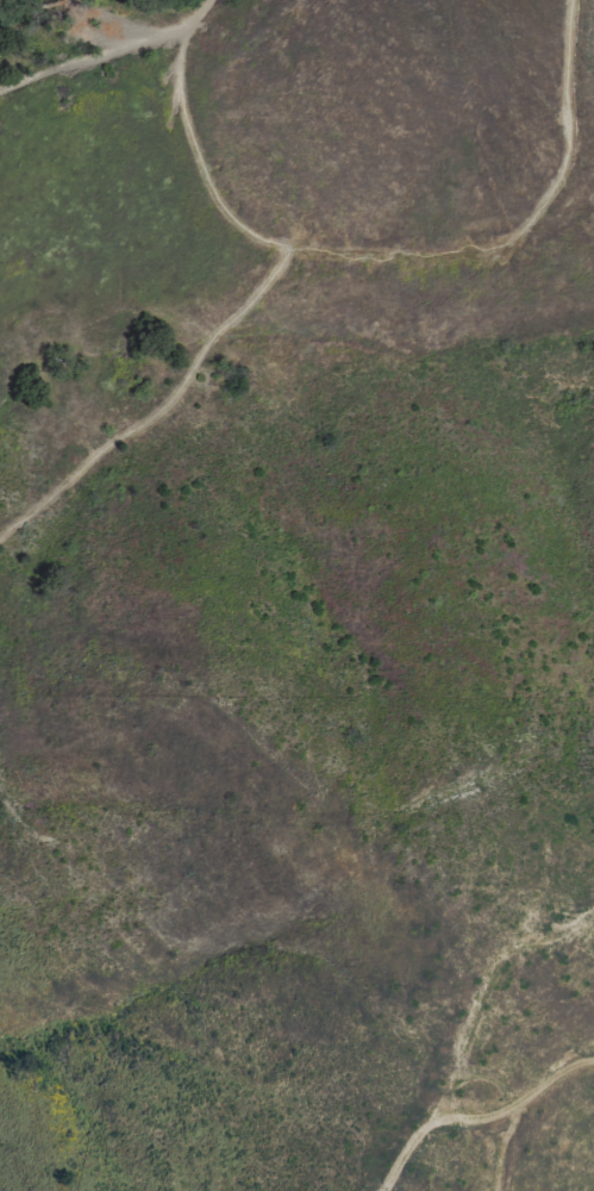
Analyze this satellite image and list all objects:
road: (200, 10)
road: (290, 242)
park: (79, 905)

